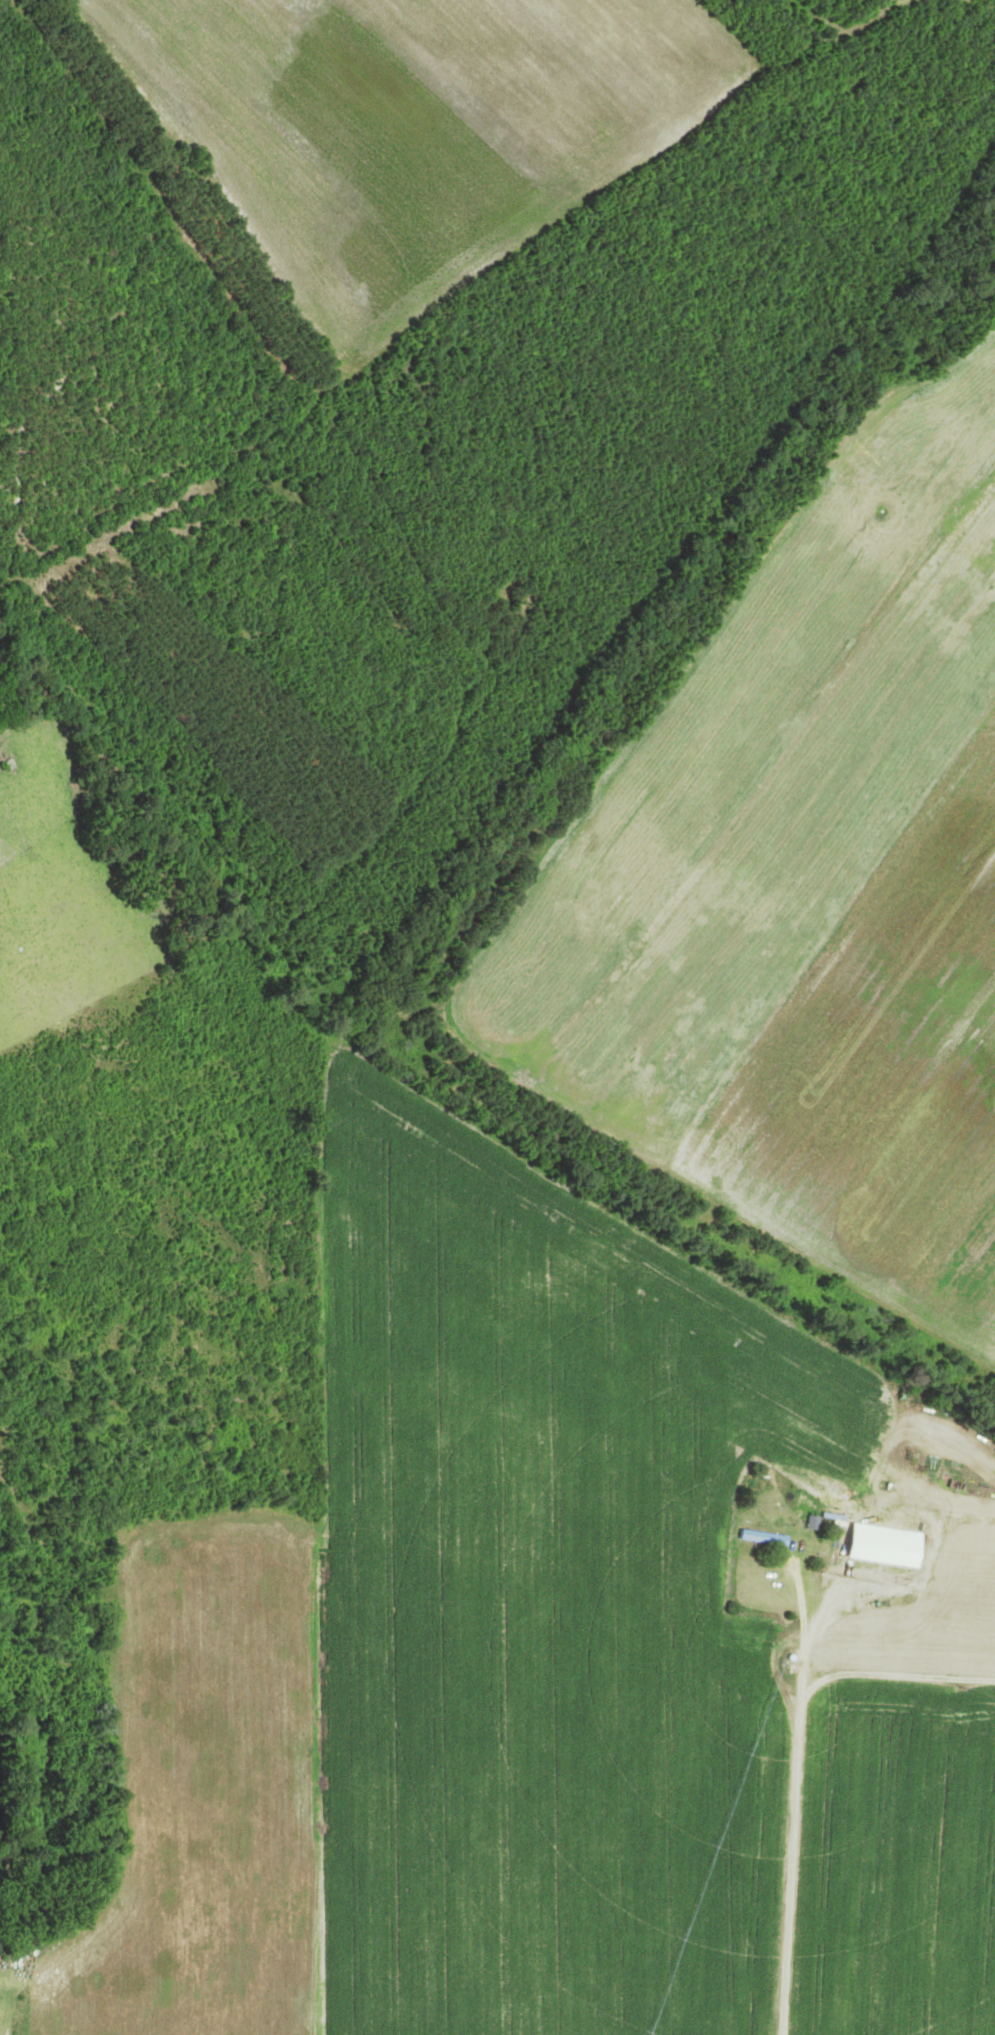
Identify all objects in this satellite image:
building: (808, 1524)
road: (973, 1587)
road: (790, 1727)

